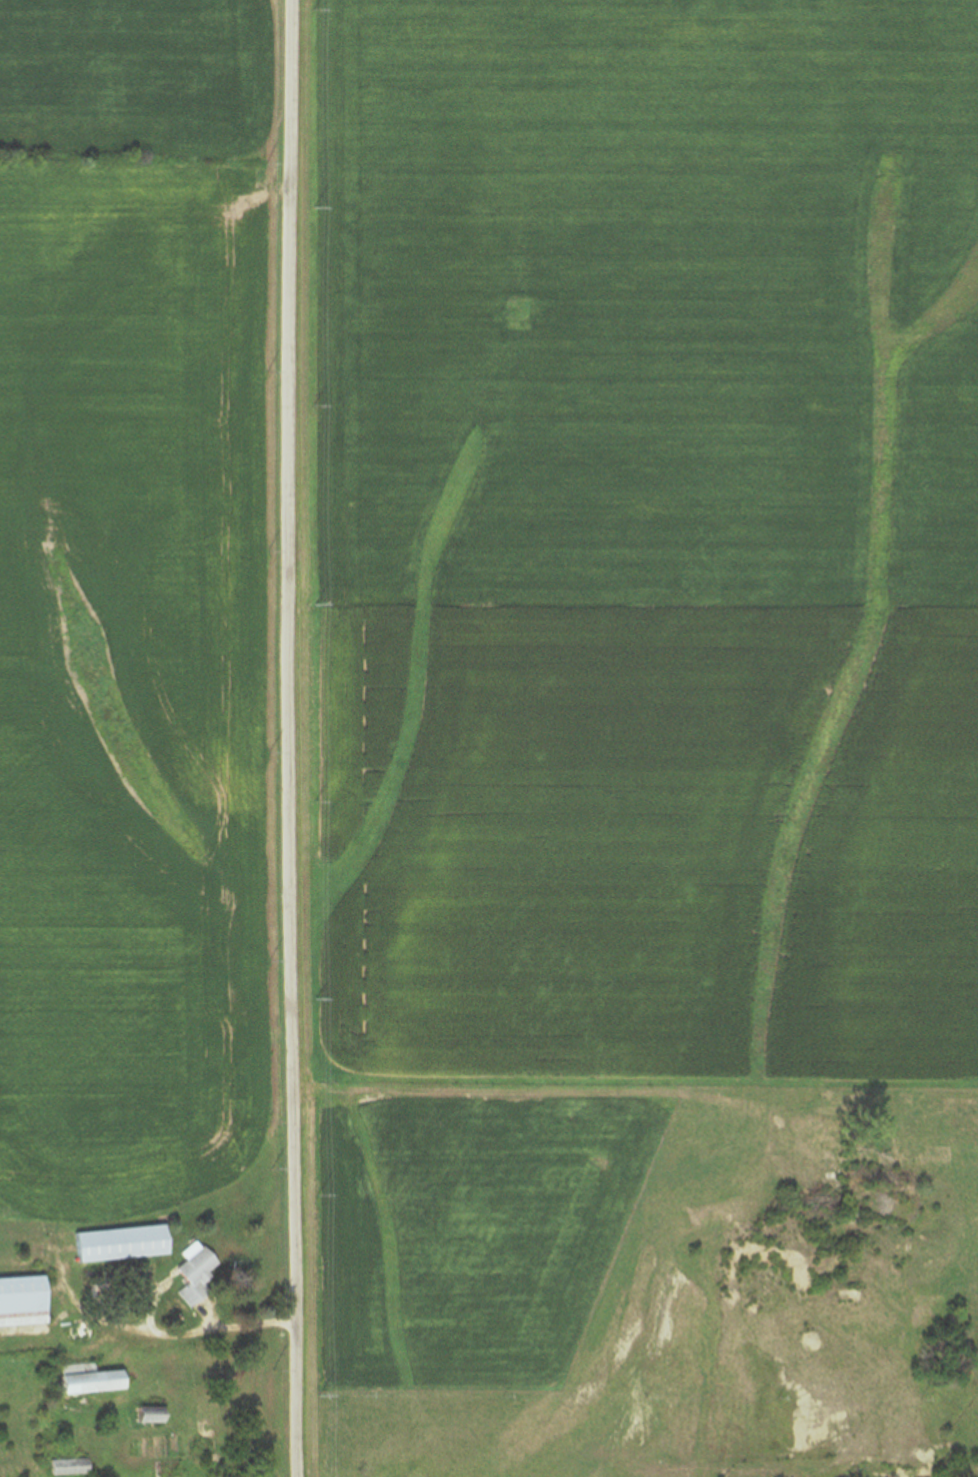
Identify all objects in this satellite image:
road: (291, 738)
road: (522, 1091)
building: (115, 1244)
building: (188, 1273)
building: (21, 1302)
road: (188, 1333)
building: (79, 1384)
building: (141, 1416)
building: (64, 1468)

